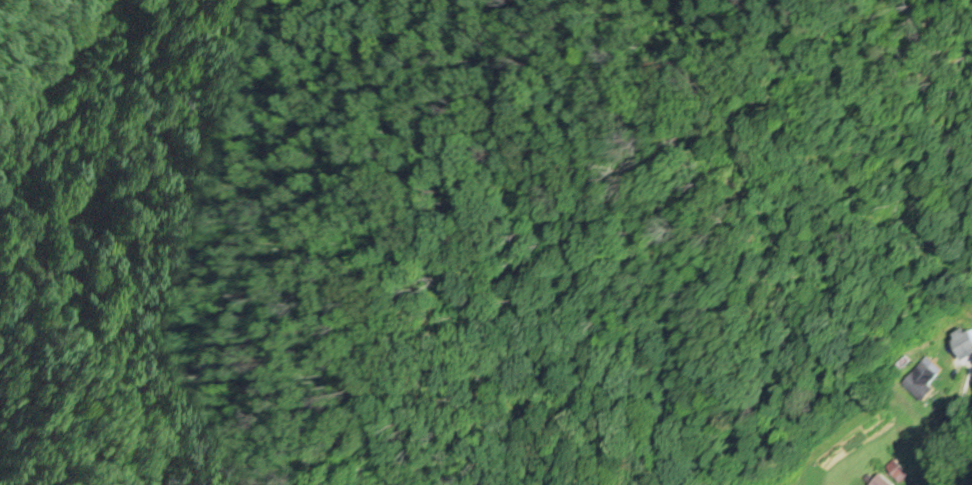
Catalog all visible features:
road: (952, 450)

